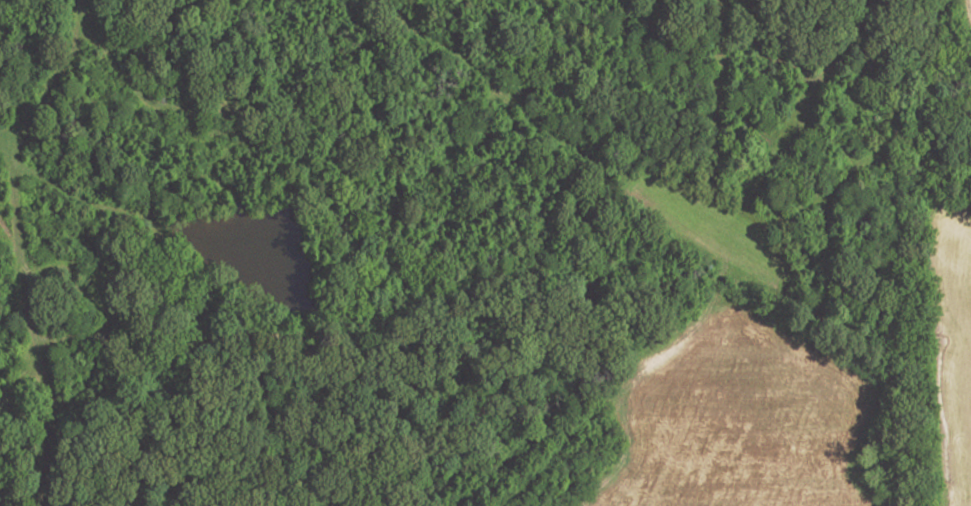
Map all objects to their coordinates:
road: (17, 247)

